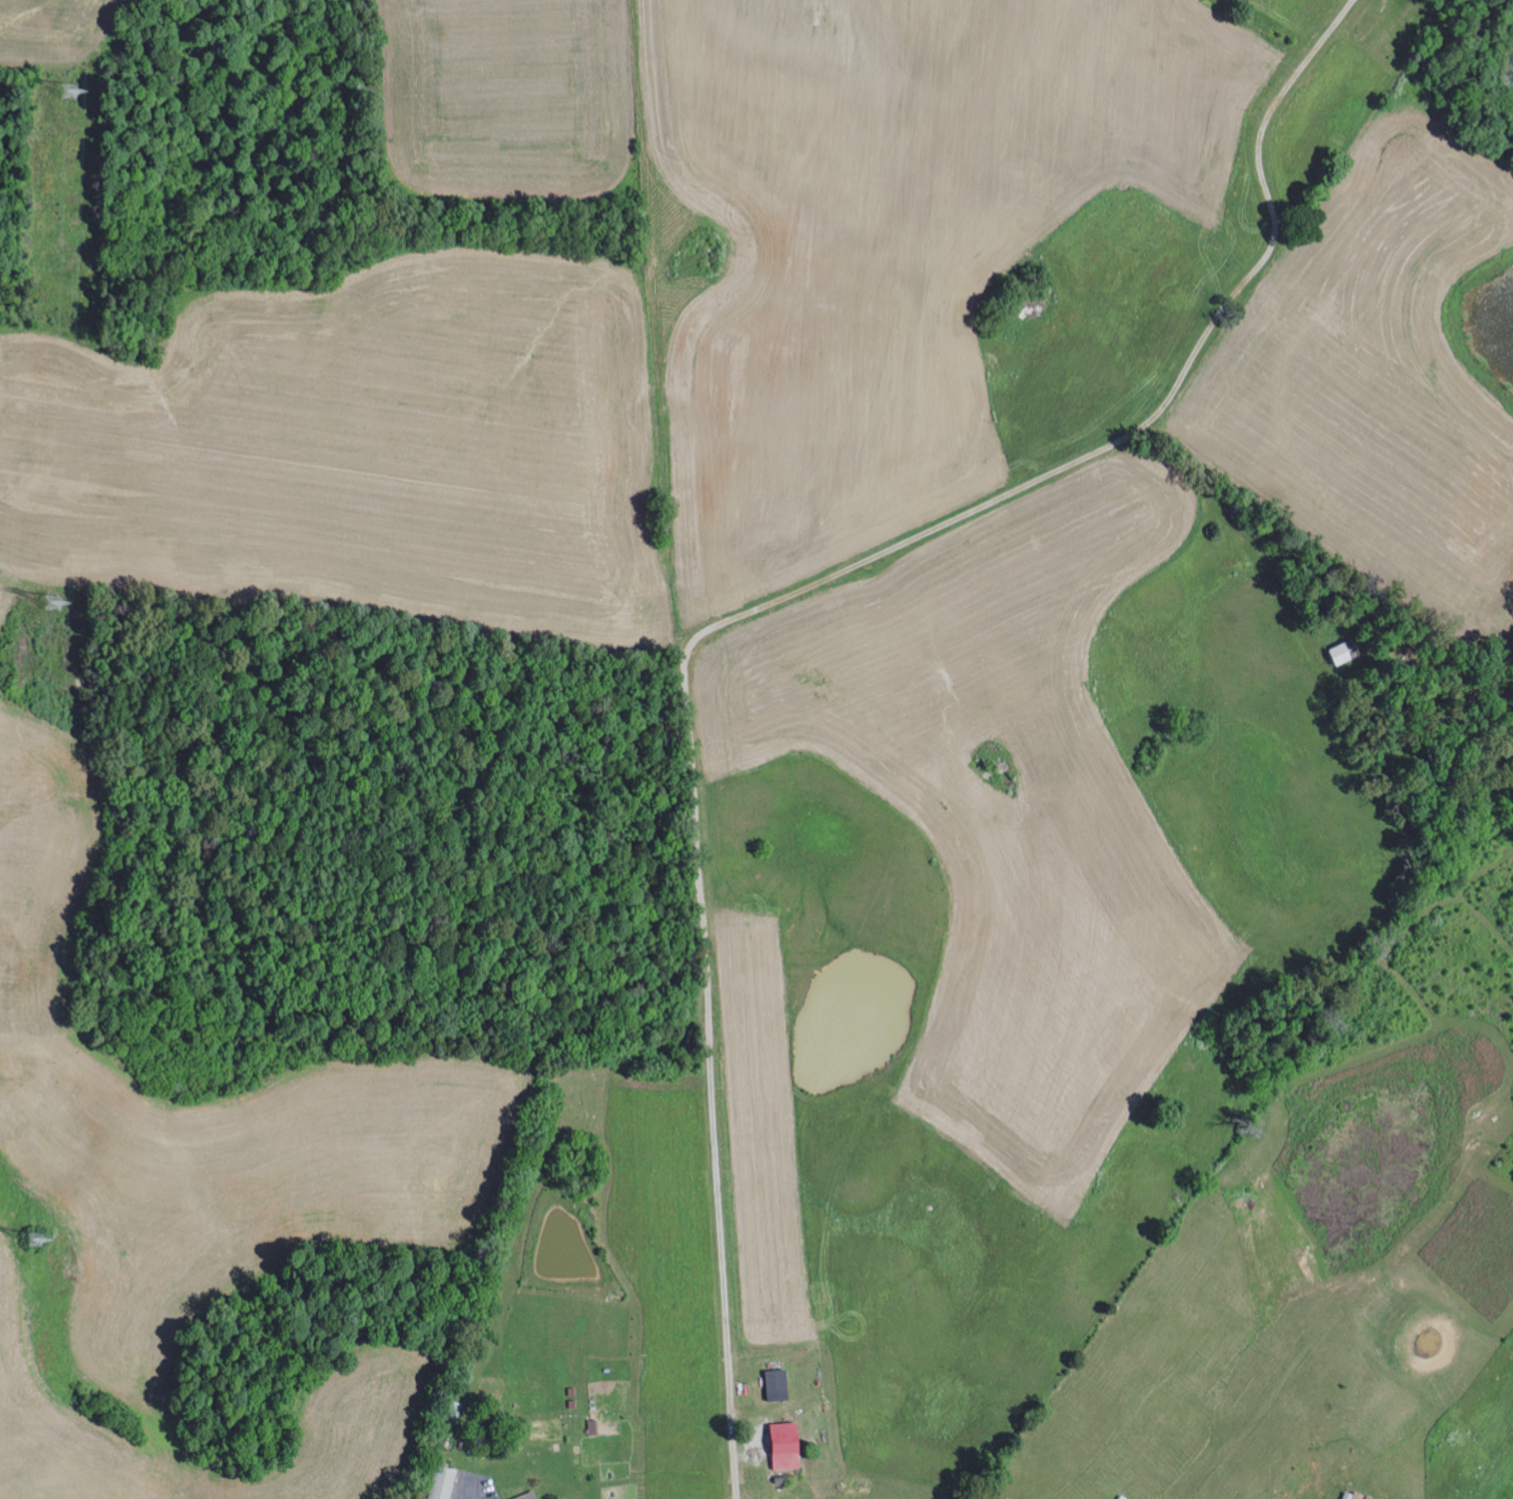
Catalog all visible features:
power tower: (78, 97)
road: (754, 606)
power tower: (54, 607)
power tower: (37, 1249)
building: (779, 1384)
building: (790, 1445)
building: (447, 1483)
building: (531, 1496)
building: (1364, 1497)

